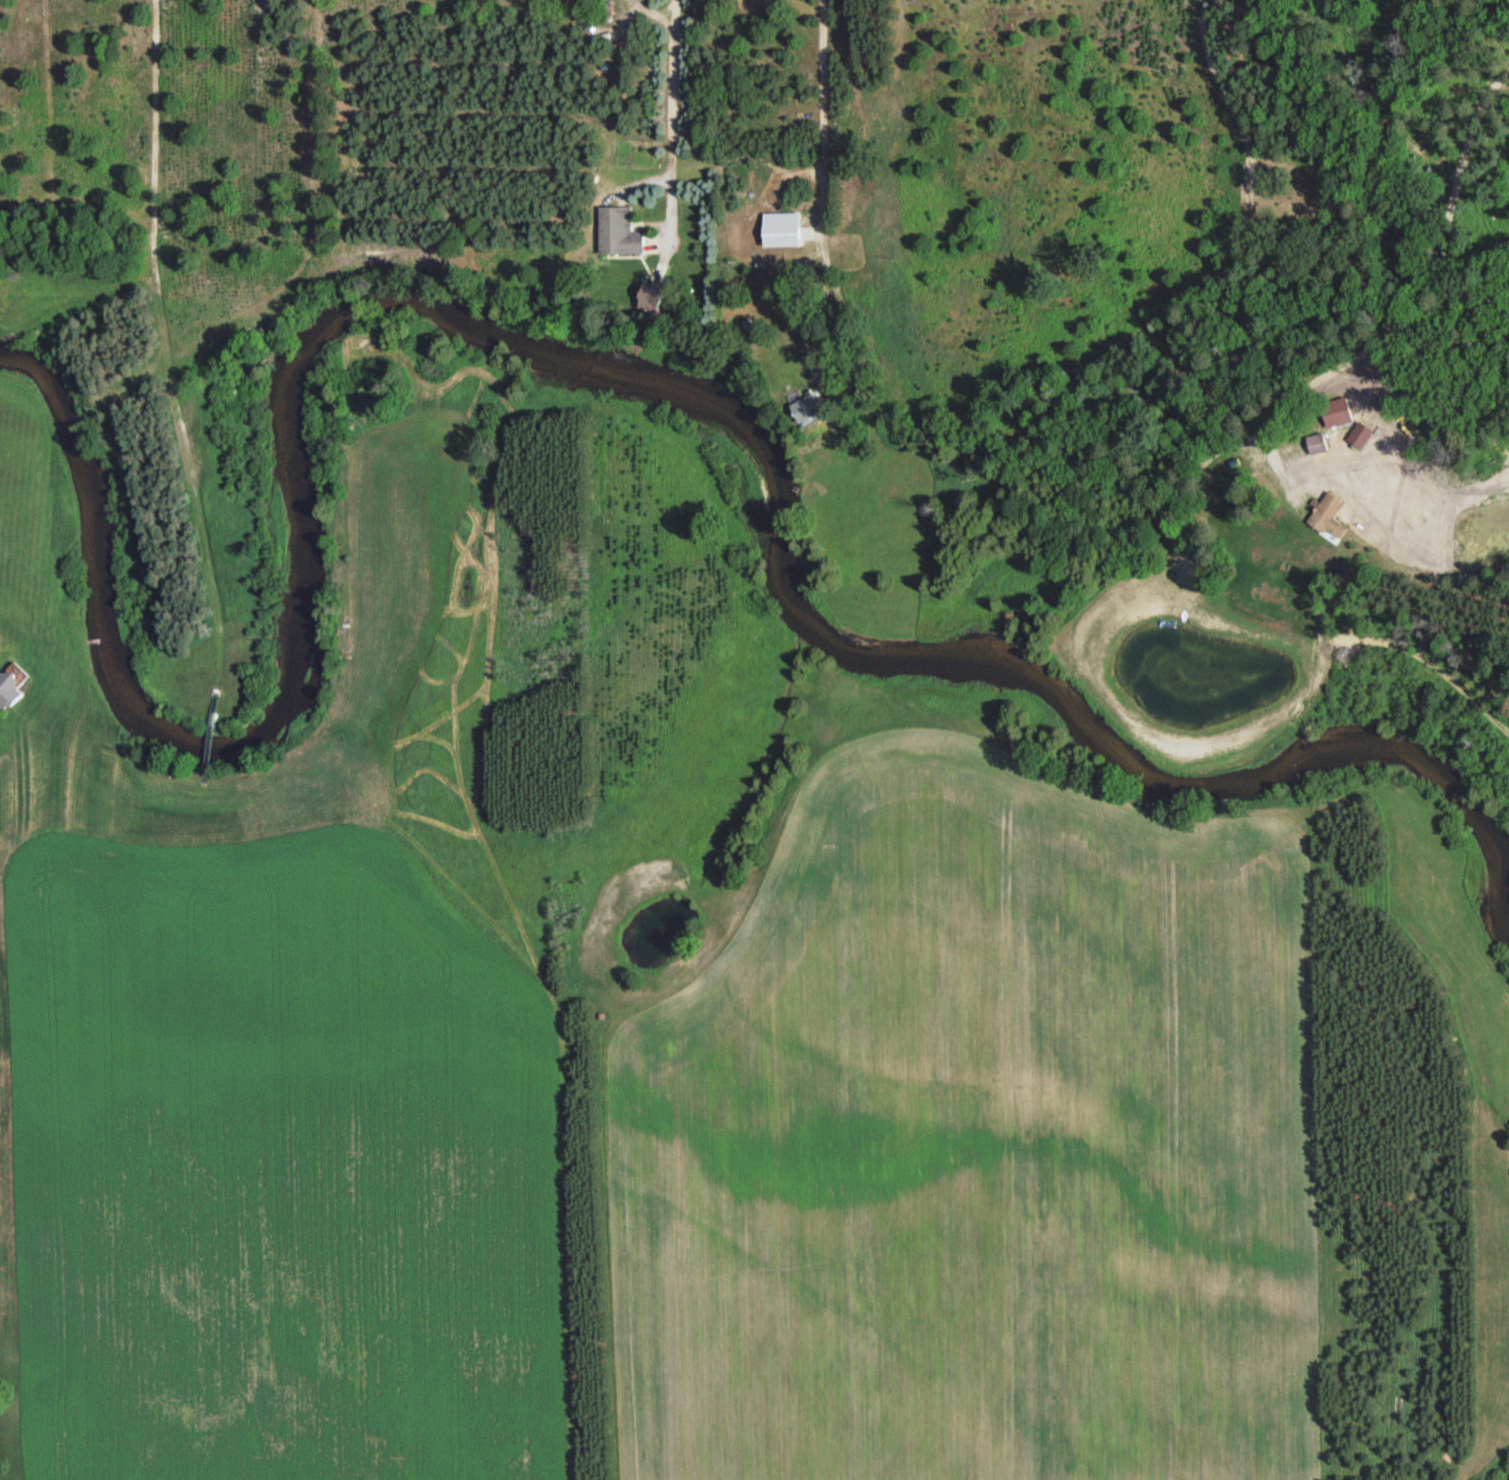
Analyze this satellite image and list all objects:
building: (619, 232)
river: (575, 360)
building: (805, 409)
building: (1329, 517)
building: (8, 686)

